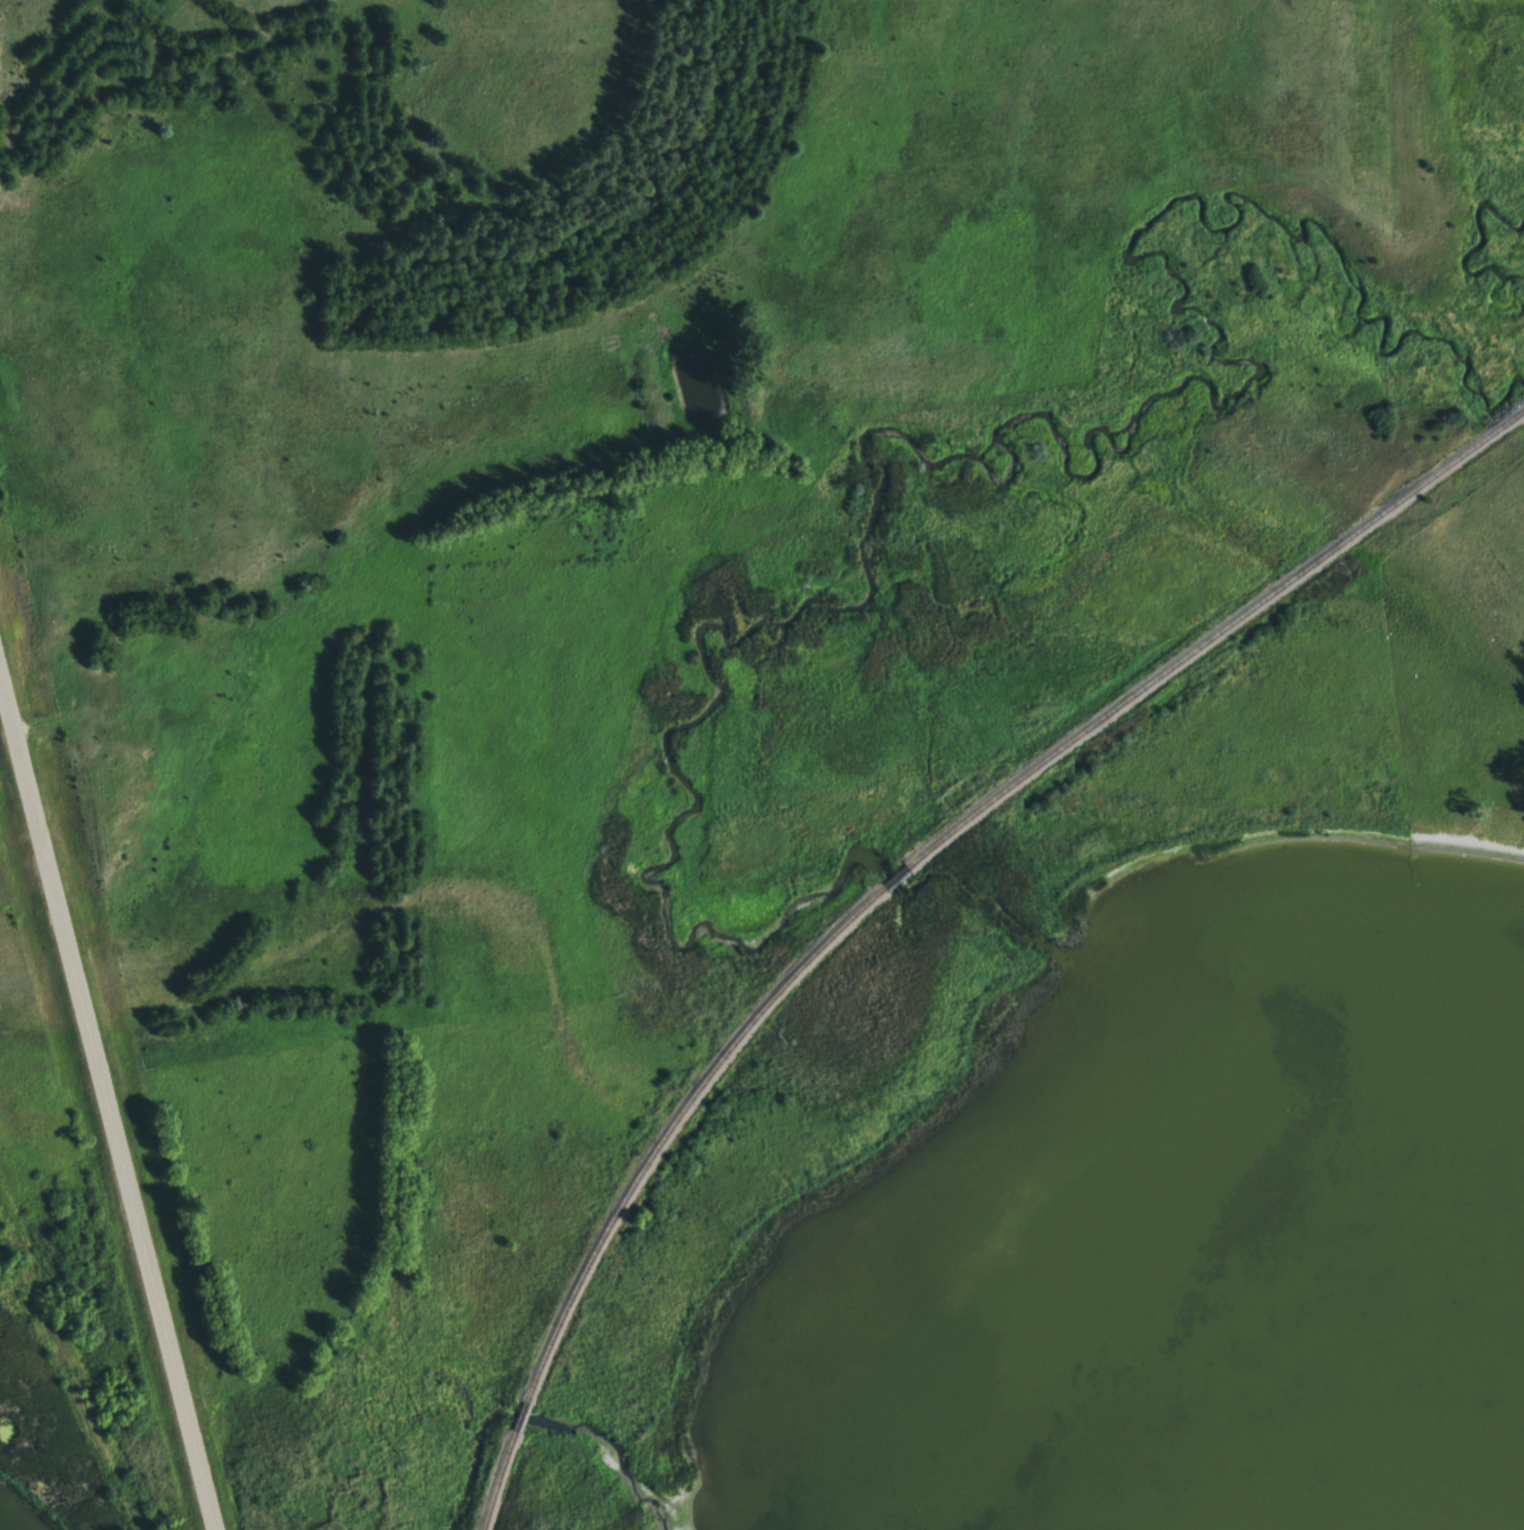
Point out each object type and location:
river: (1474, 262)
river: (886, 450)
railway: (944, 831)
road: (108, 1089)
river: (1297, 1213)
railway: (523, 1423)
river: (474, 1435)
railway: (503, 1484)

